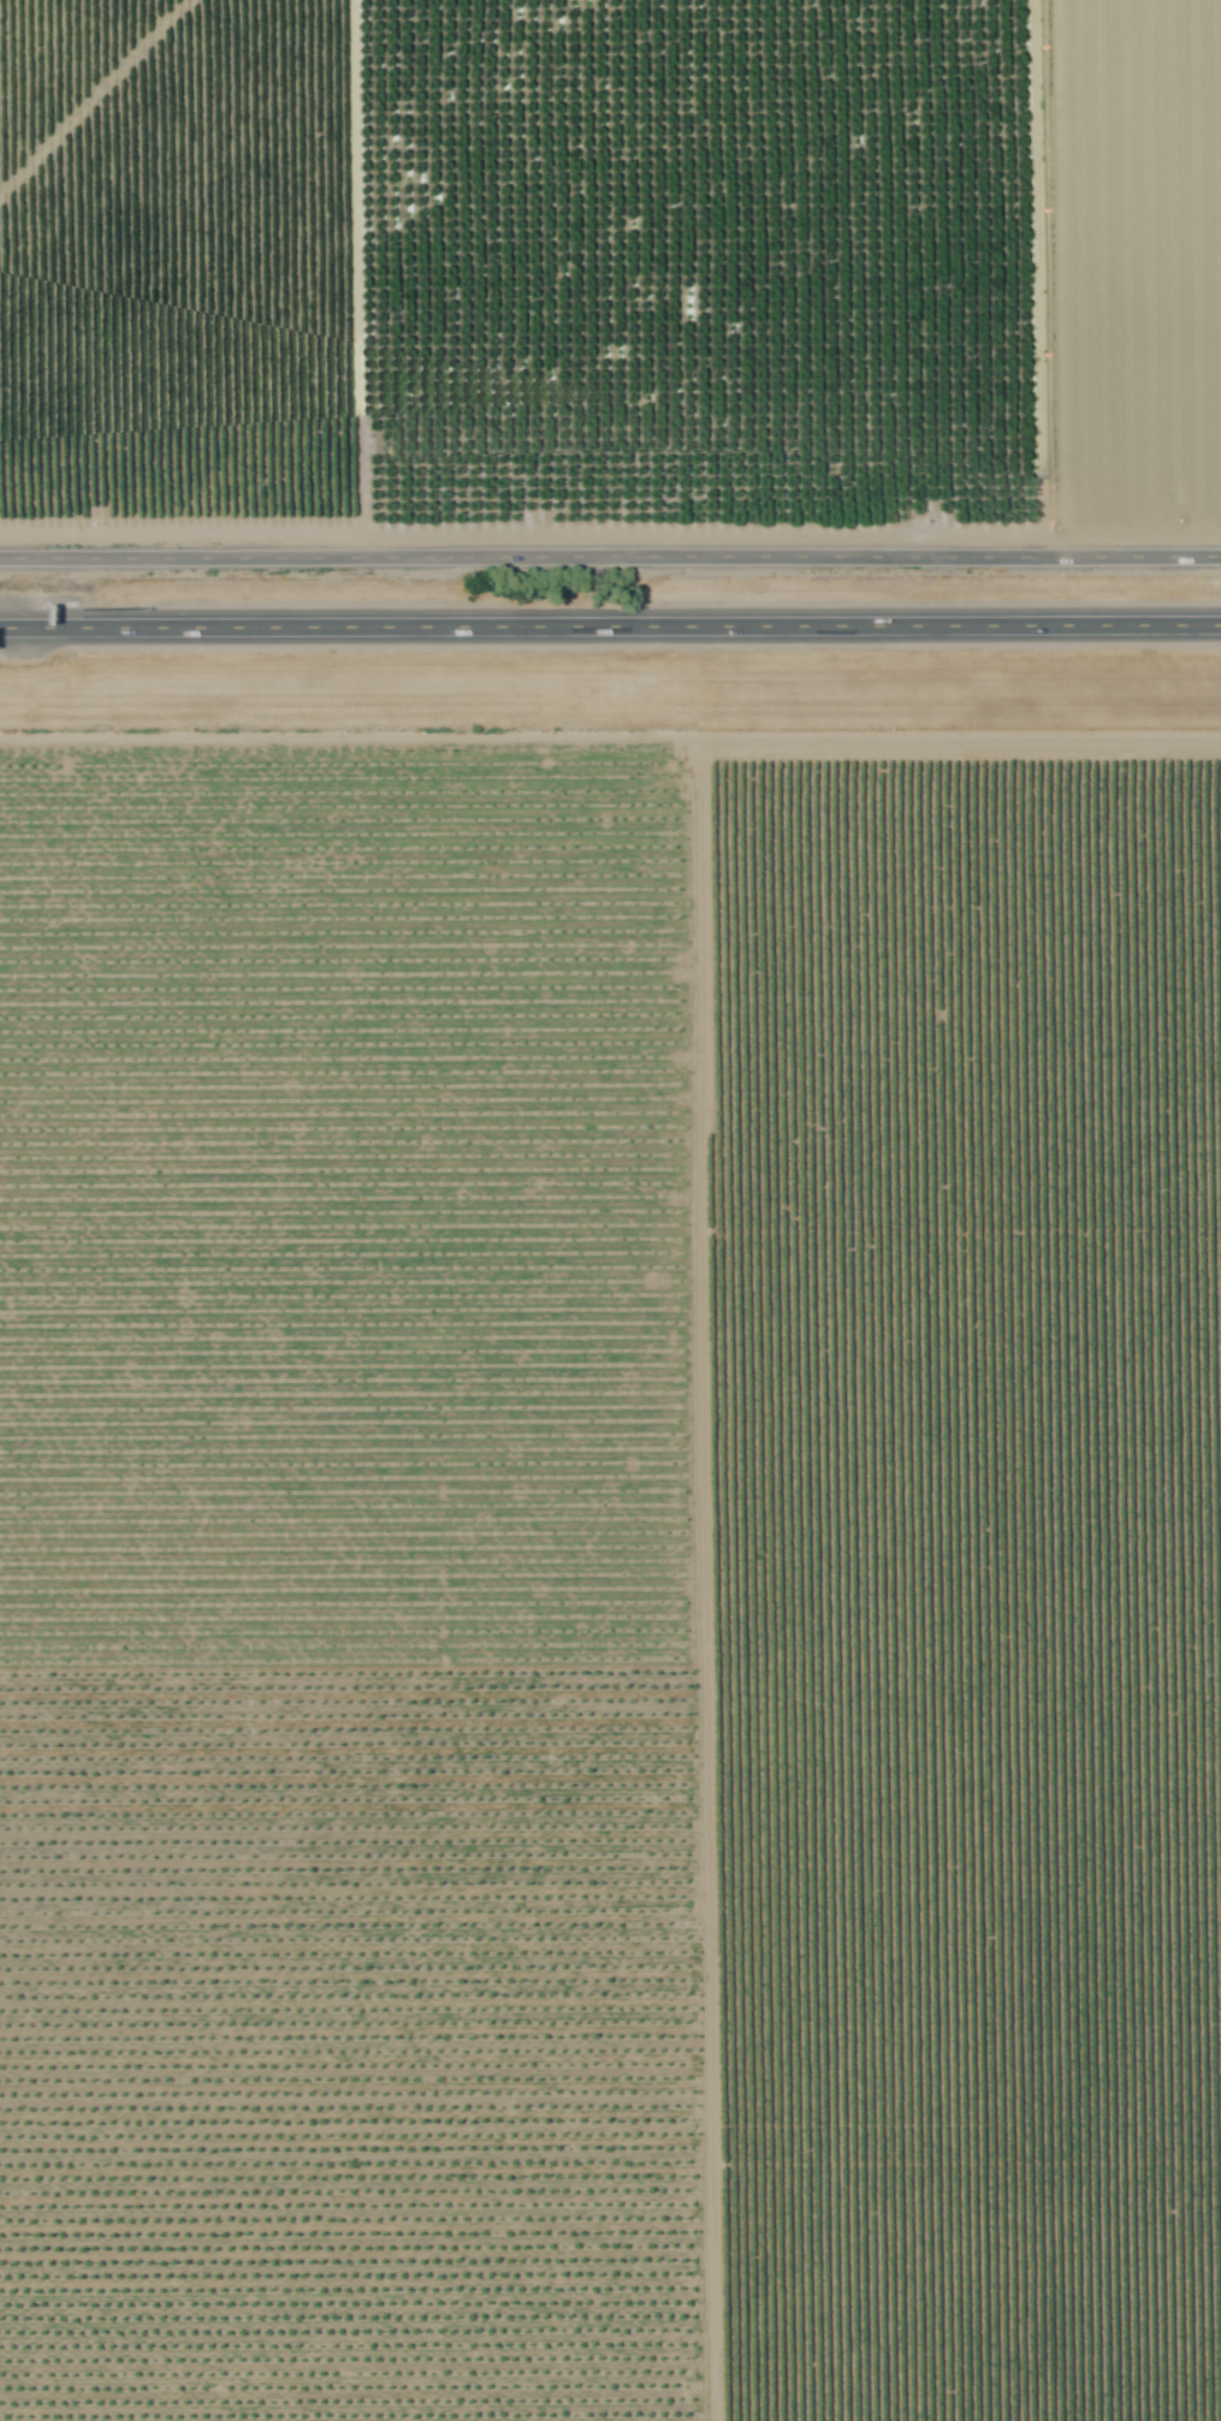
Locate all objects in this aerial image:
crop: (609, 297)
road: (610, 551)
road: (610, 625)
crop: (610, 1562)

